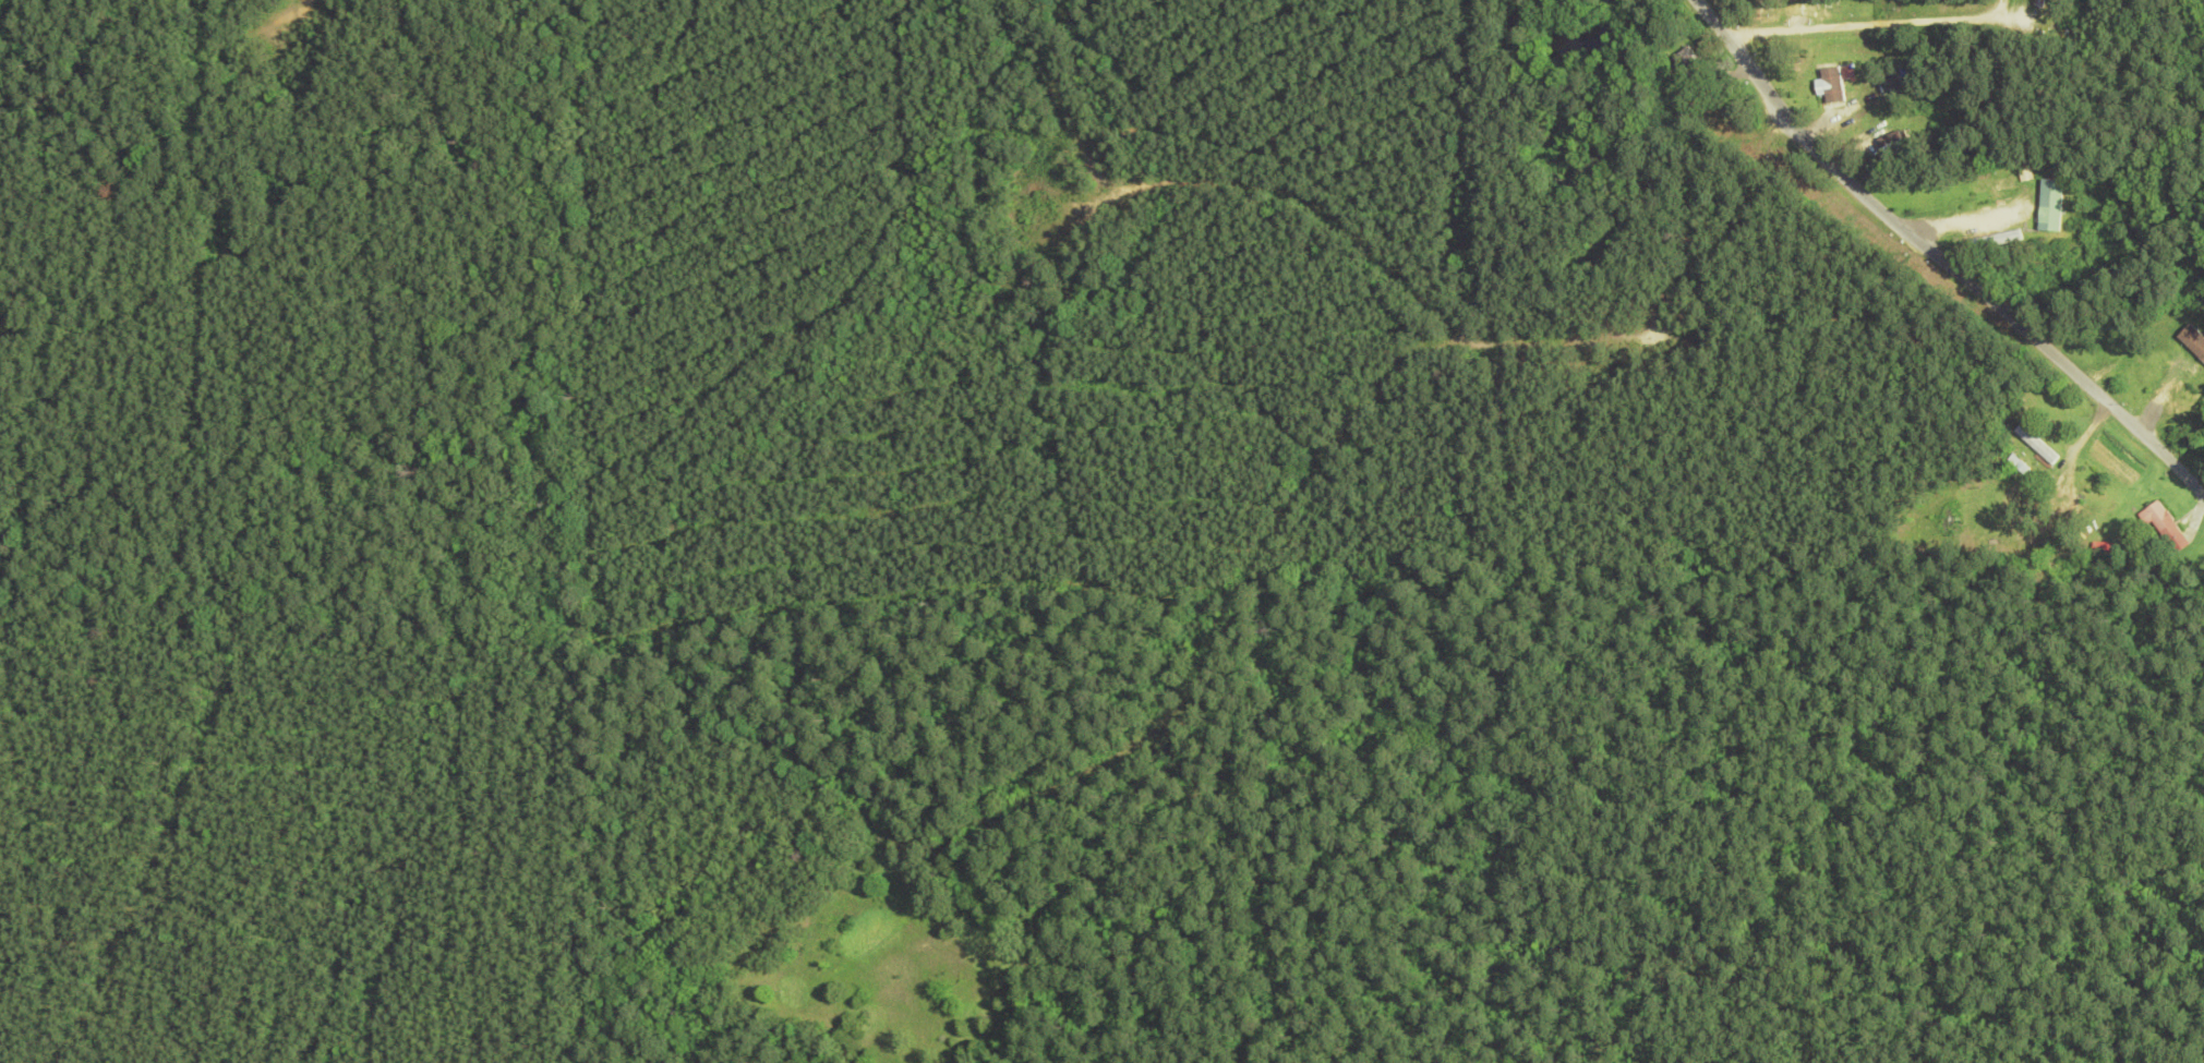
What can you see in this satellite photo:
building: (2035, 4)
road: (1862, 26)
building: (1683, 62)
building: (1891, 143)
building: (1988, 189)
road: (1939, 258)
road: (2088, 316)
building: (2179, 364)
building: (2185, 413)
building: (2033, 445)
building: (2161, 528)

